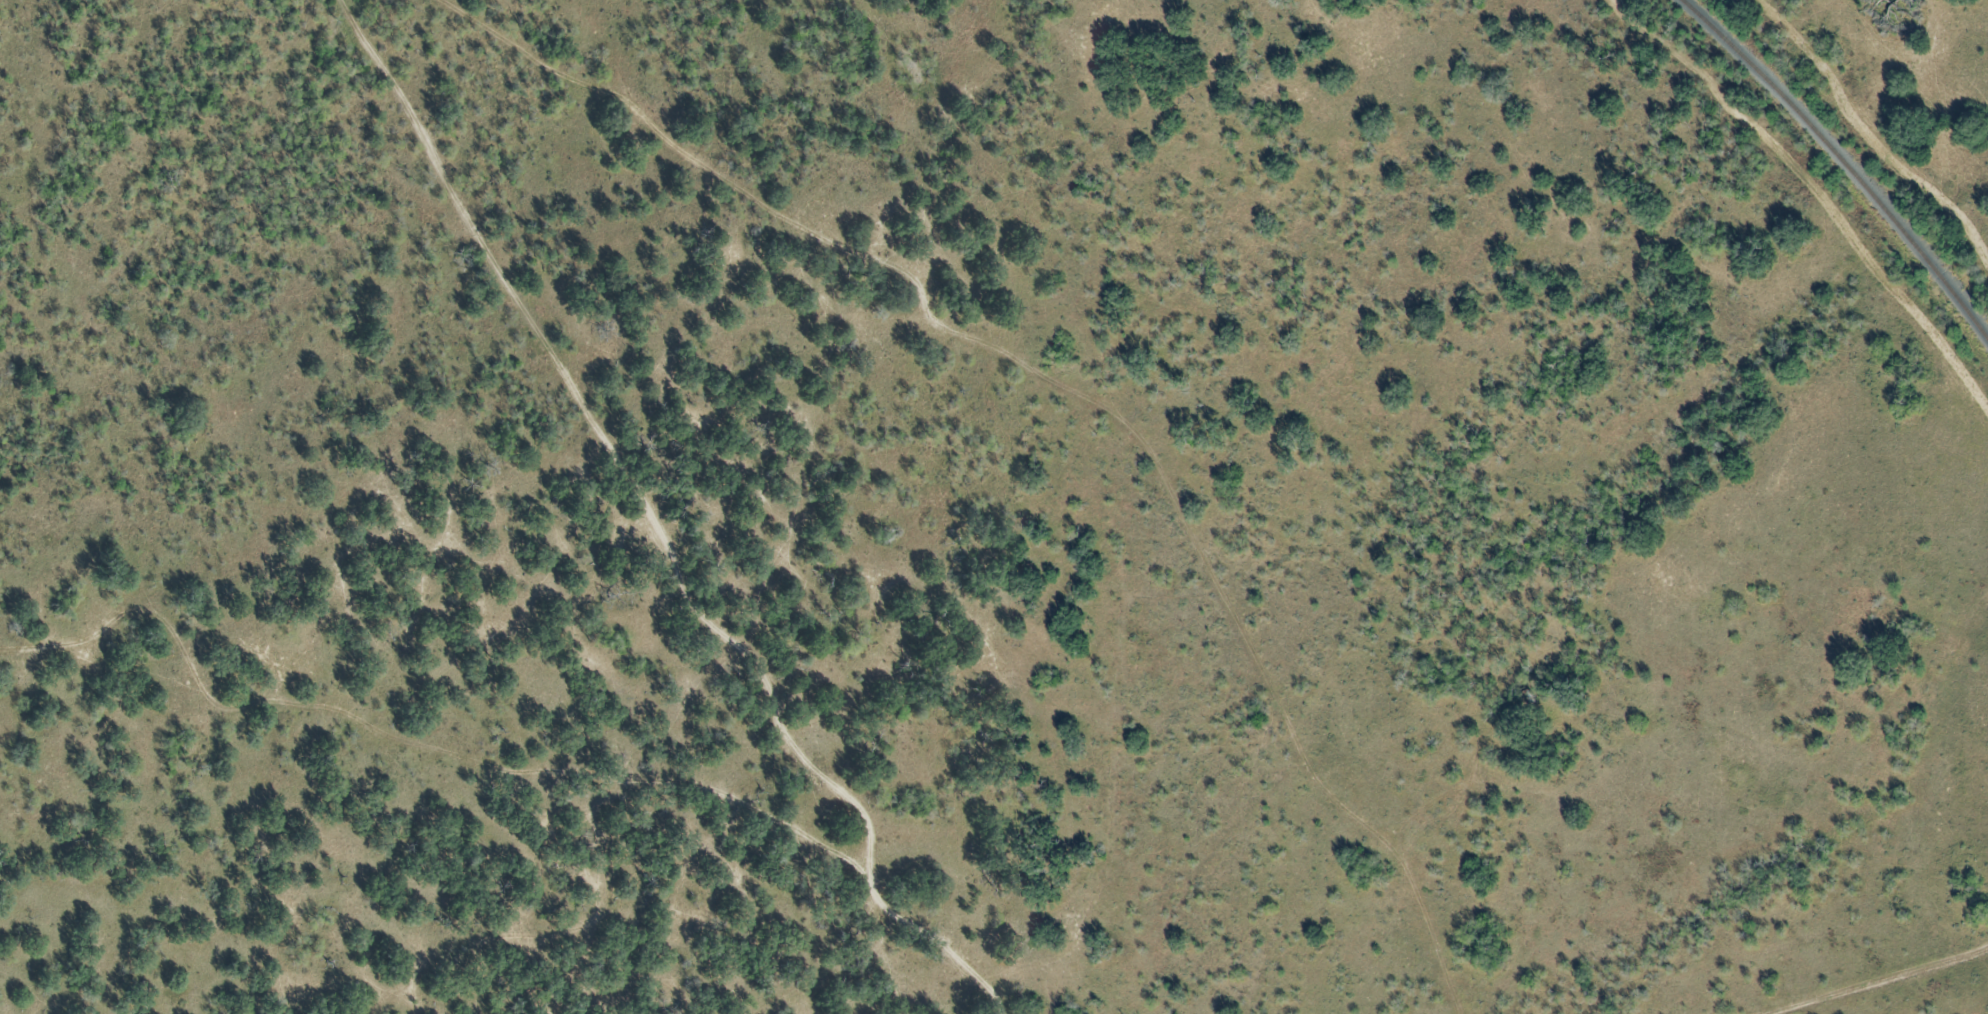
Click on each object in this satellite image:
railway: (1841, 164)

